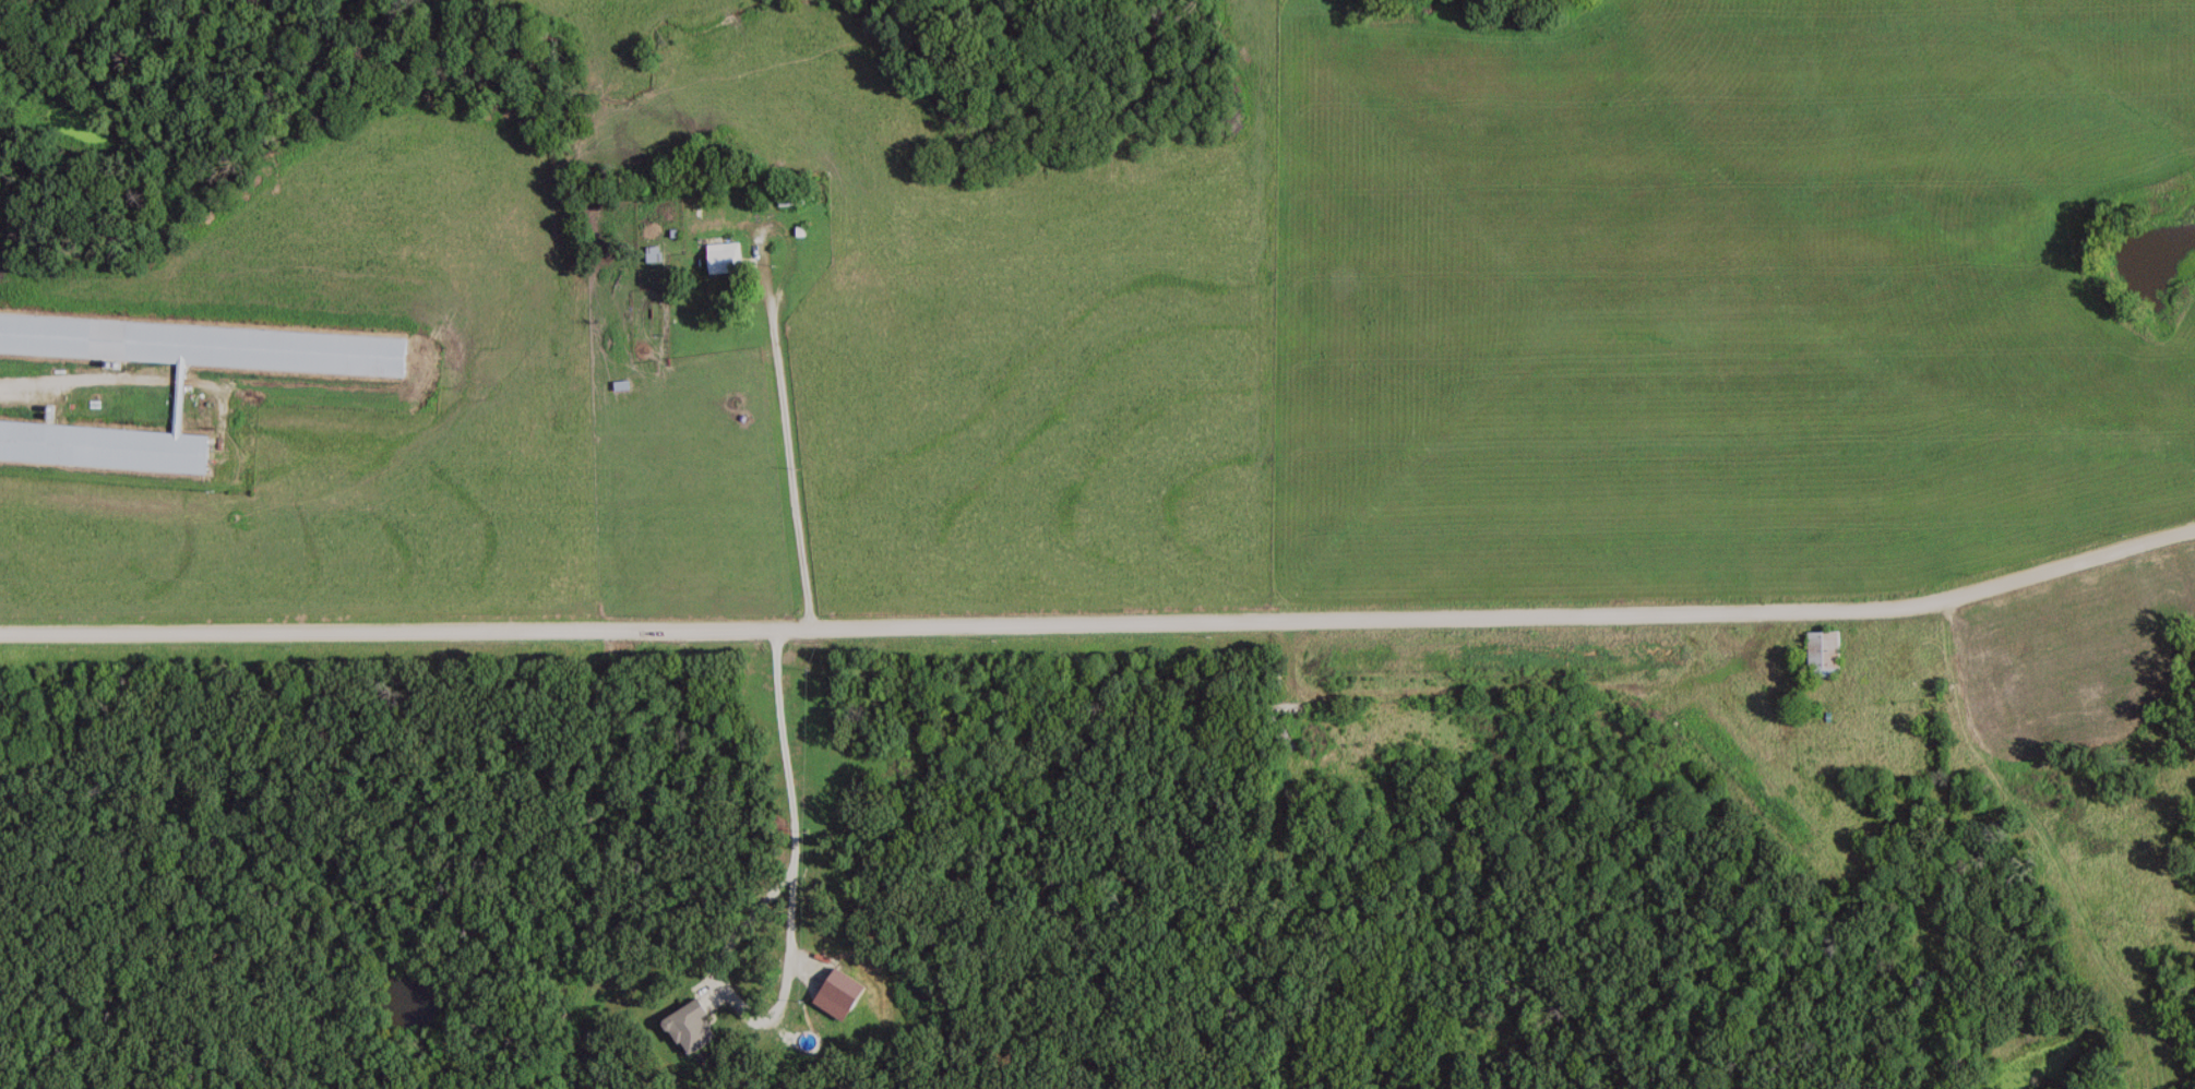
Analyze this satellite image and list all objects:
building: (727, 258)
building: (205, 343)
road: (82, 381)
building: (625, 383)
building: (105, 444)
road: (786, 464)
road: (1102, 623)
building: (1827, 651)
building: (1511, 654)
building: (2002, 691)
building: (1292, 707)
building: (1751, 773)
road: (788, 925)

